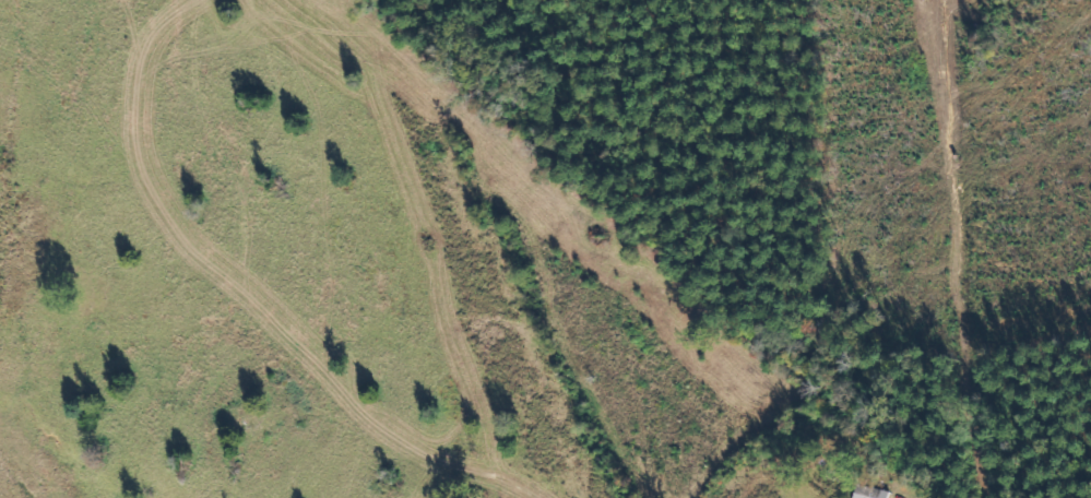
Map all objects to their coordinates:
building: (870, 493)

